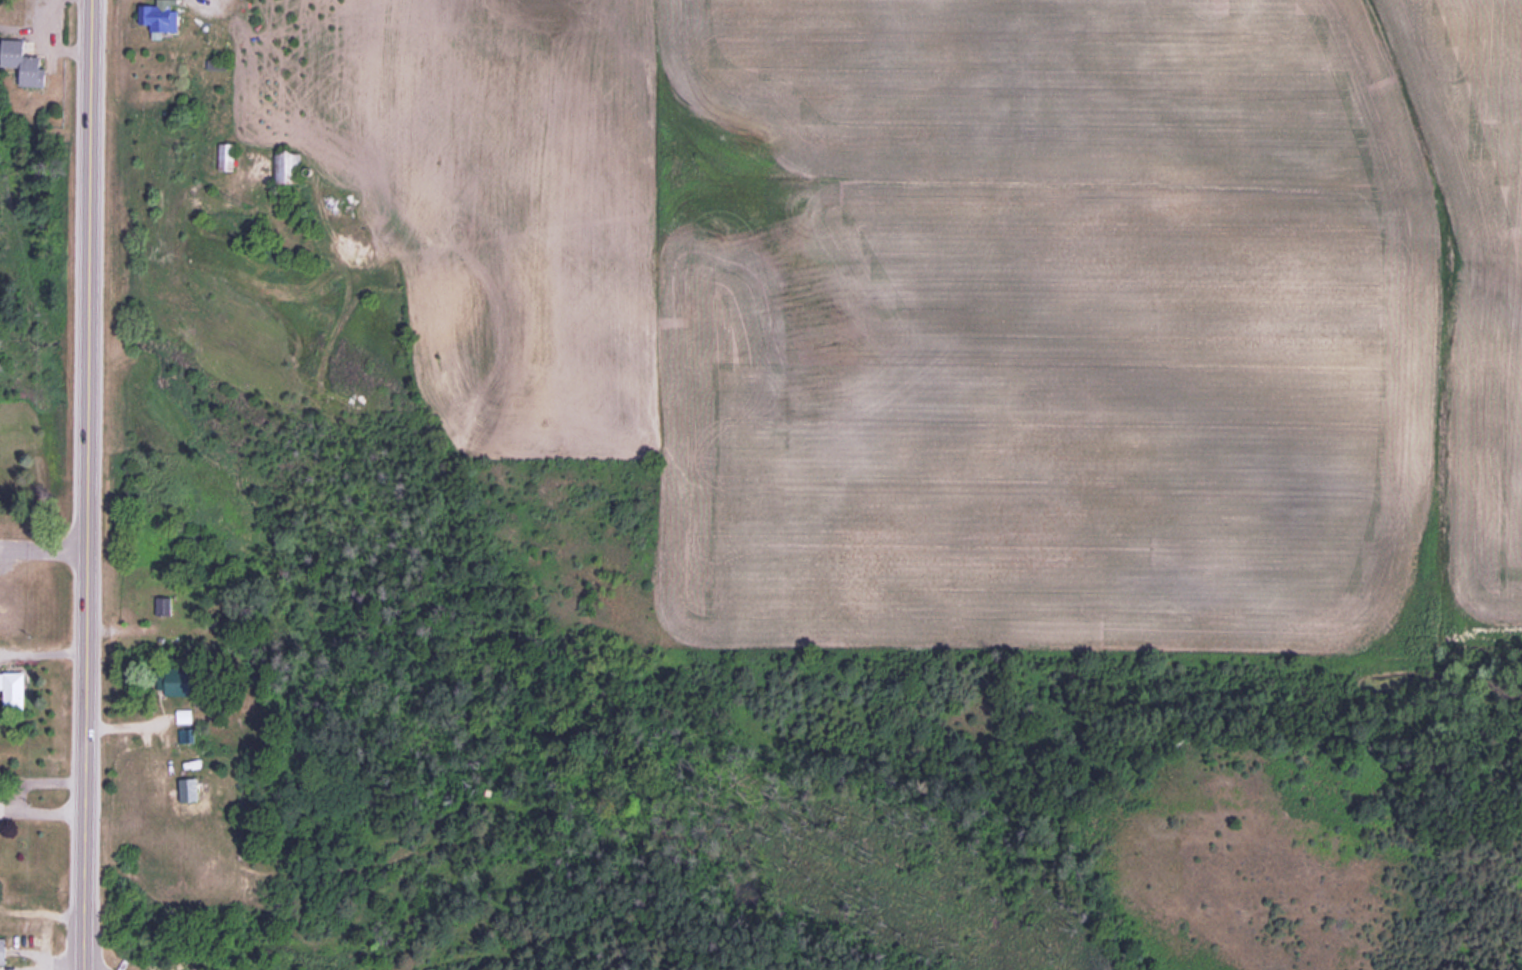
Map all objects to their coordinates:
building: (164, 18)
building: (25, 63)
building: (227, 156)
building: (286, 168)
building: (10, 477)
road: (87, 485)
road: (43, 554)
building: (18, 690)
building: (3, 952)

